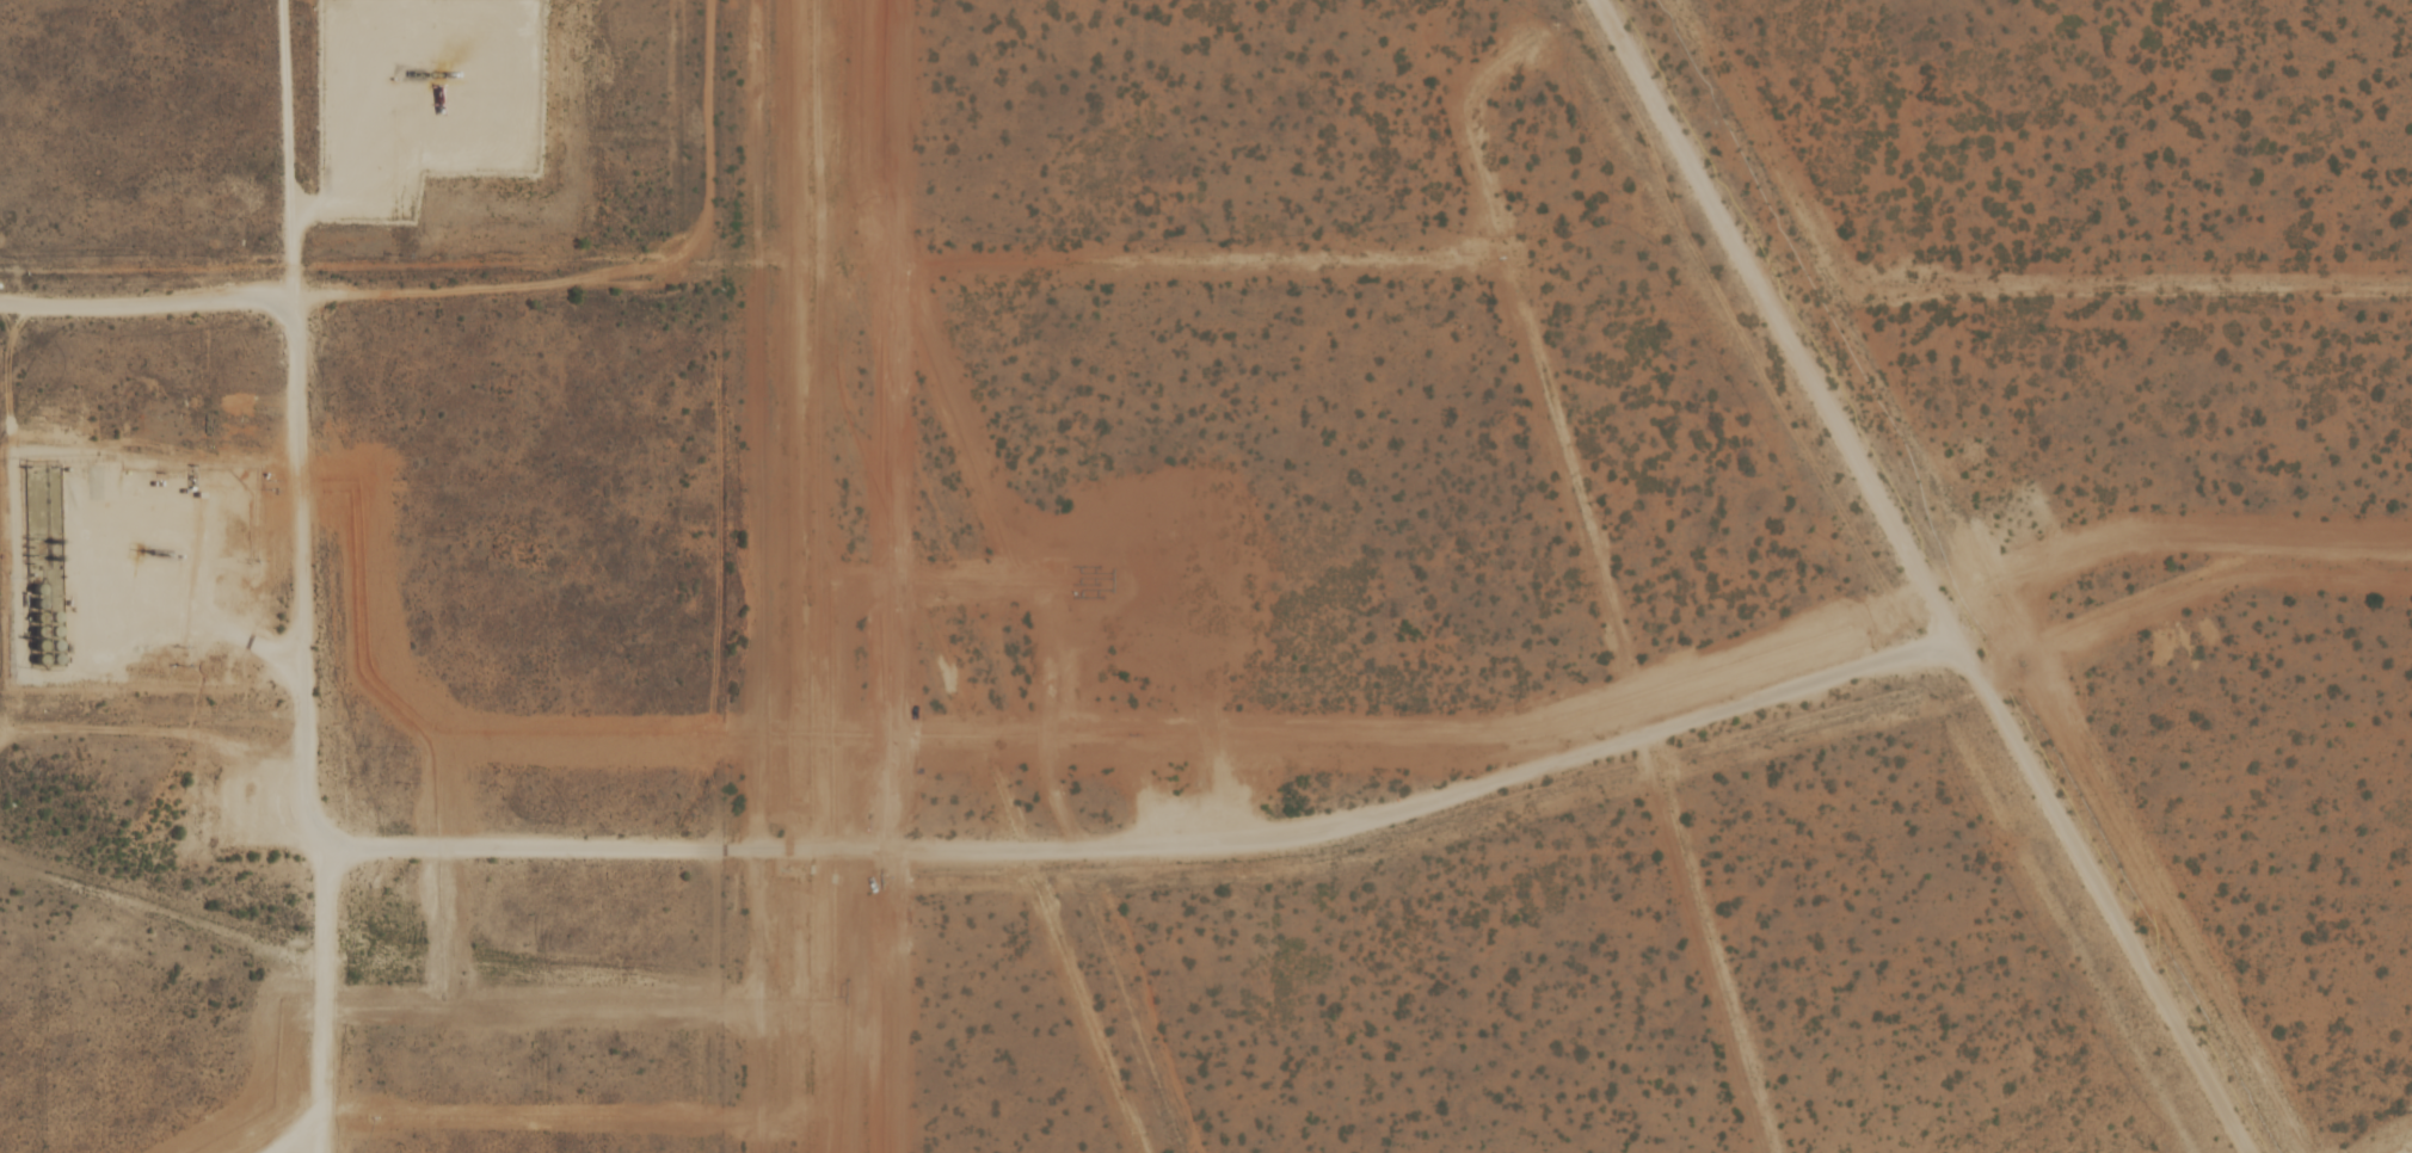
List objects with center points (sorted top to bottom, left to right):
petroleum well: (418, 68)
road: (425, 167)
road: (497, 307)
petroleum well: (153, 544)
road: (296, 575)
road: (1924, 576)
road: (197, 614)
road: (1592, 748)
road: (784, 844)
road: (287, 1132)

